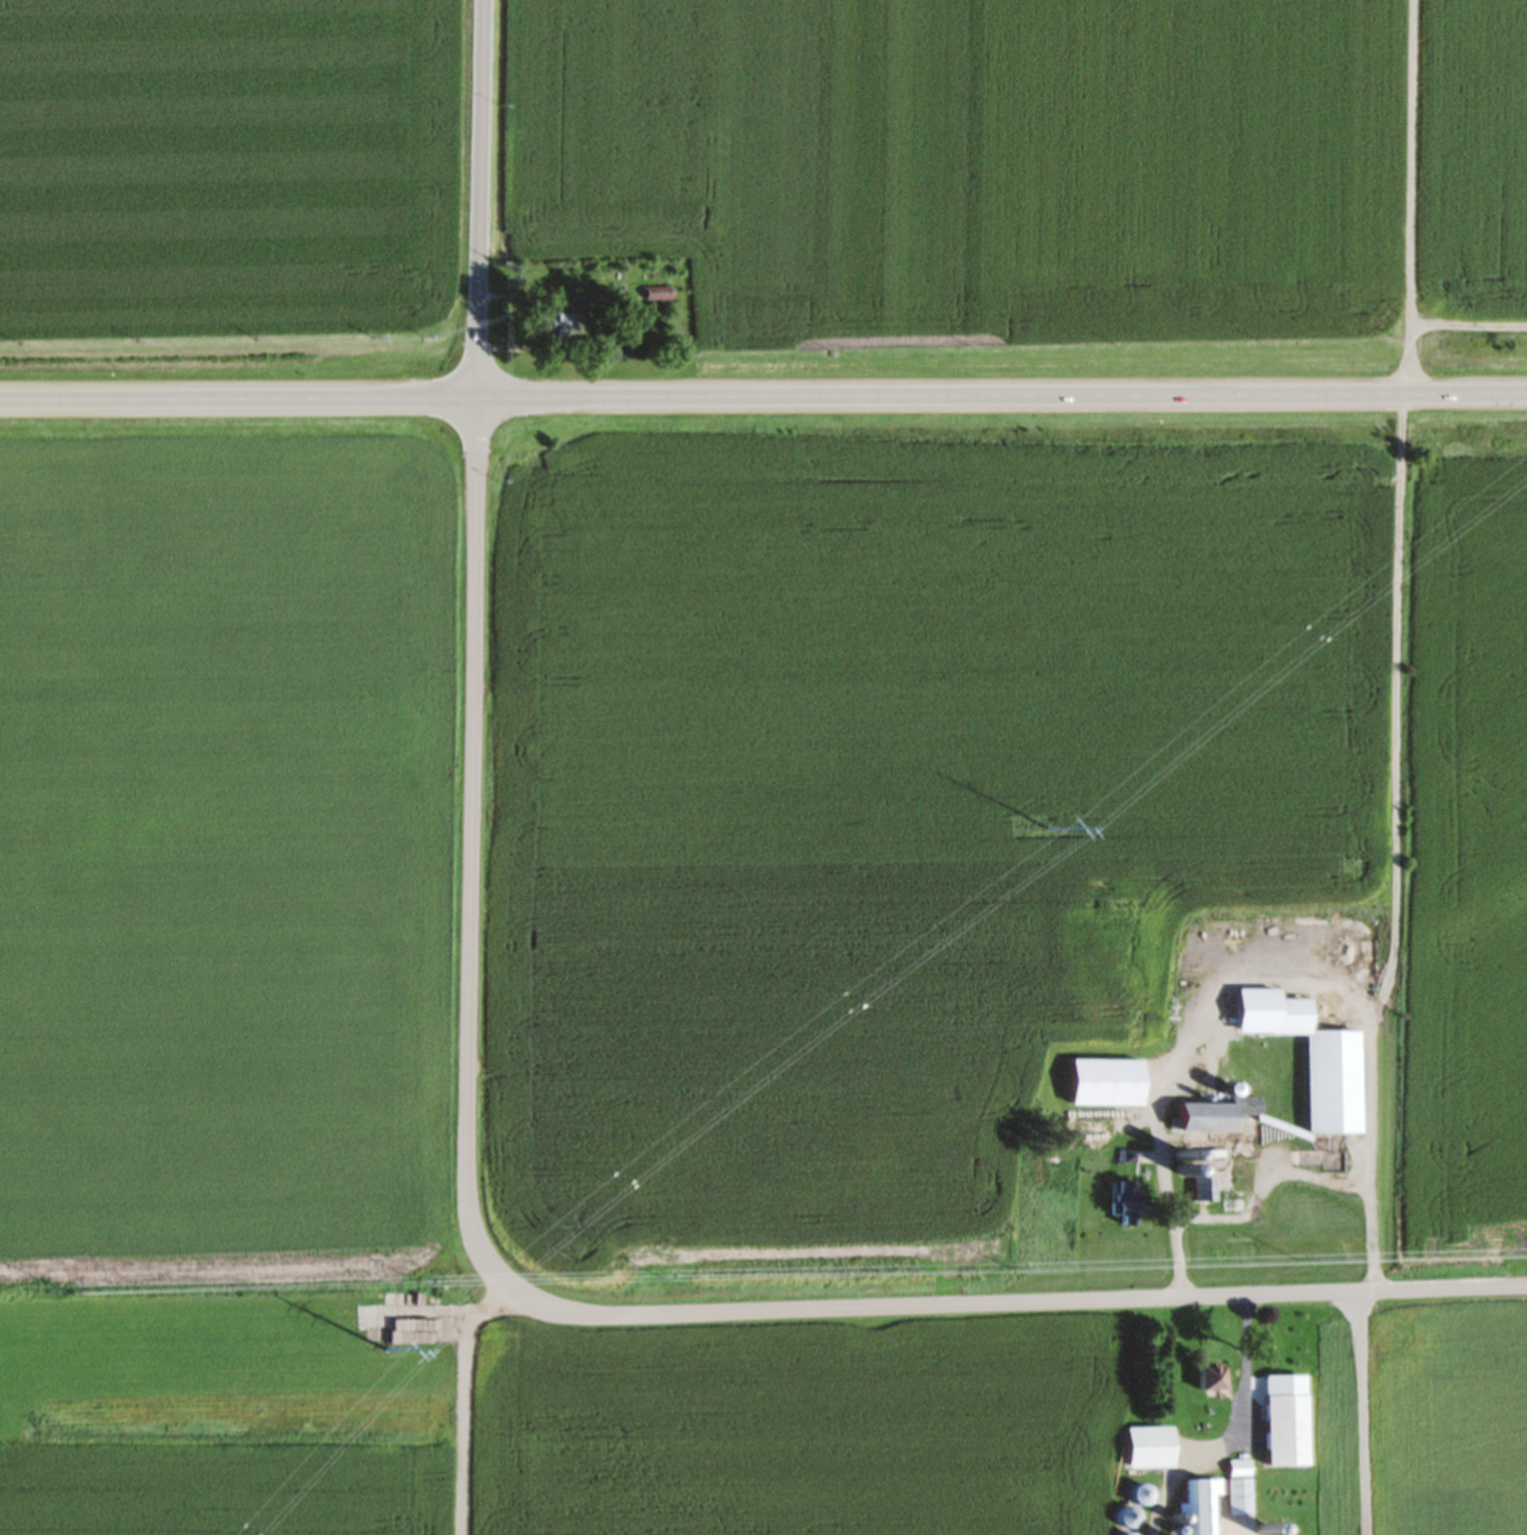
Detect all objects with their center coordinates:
crop: (227, 167)
road: (1403, 199)
building: (556, 330)
road: (763, 401)
power tower: (1045, 833)
crop: (226, 861)
building: (1104, 1086)
building: (1332, 1087)
road: (1153, 1105)
building: (1222, 1121)
road: (467, 1164)
road: (1273, 1172)
building: (1199, 1177)
building: (1131, 1217)
power tower: (380, 1356)
building: (1209, 1384)
road: (457, 1402)
road: (1360, 1412)
building: (1285, 1435)
building: (1148, 1452)
road: (1187, 1454)
building: (1136, 1499)
building: (1194, 1512)

